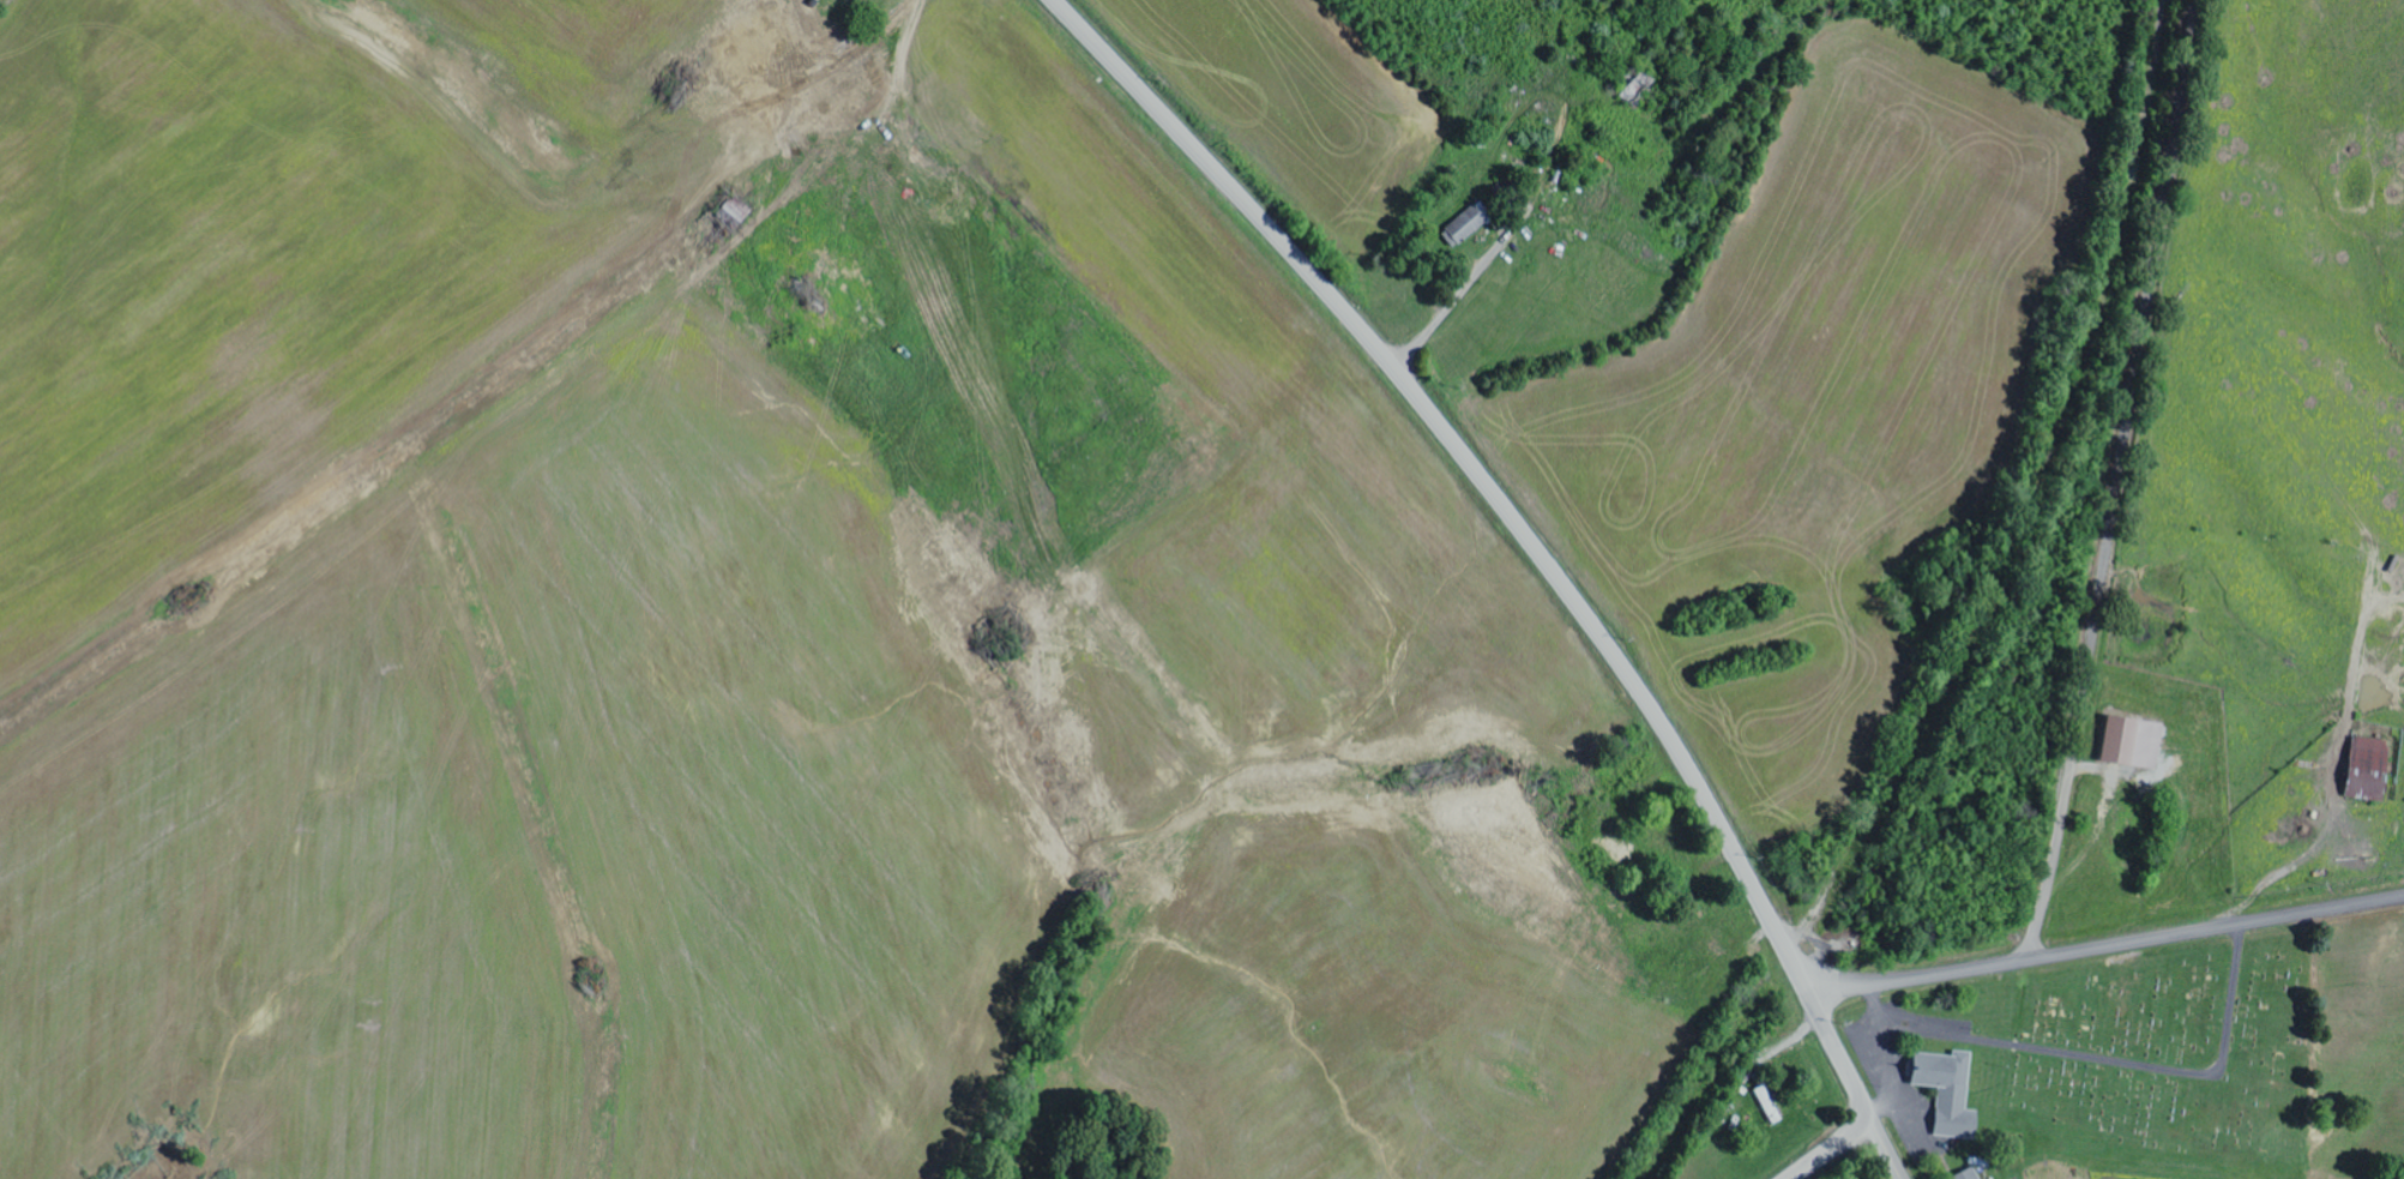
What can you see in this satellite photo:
building: (724, 221)
building: (1469, 224)
building: (819, 271)
road: (2120, 479)
road: (1534, 548)
crop: (920, 591)
building: (2116, 741)
building: (2363, 769)
road: (2104, 944)
park: (2169, 1046)
building: (1945, 1091)
building: (1766, 1107)
road: (1831, 1149)
building: (1964, 1174)

